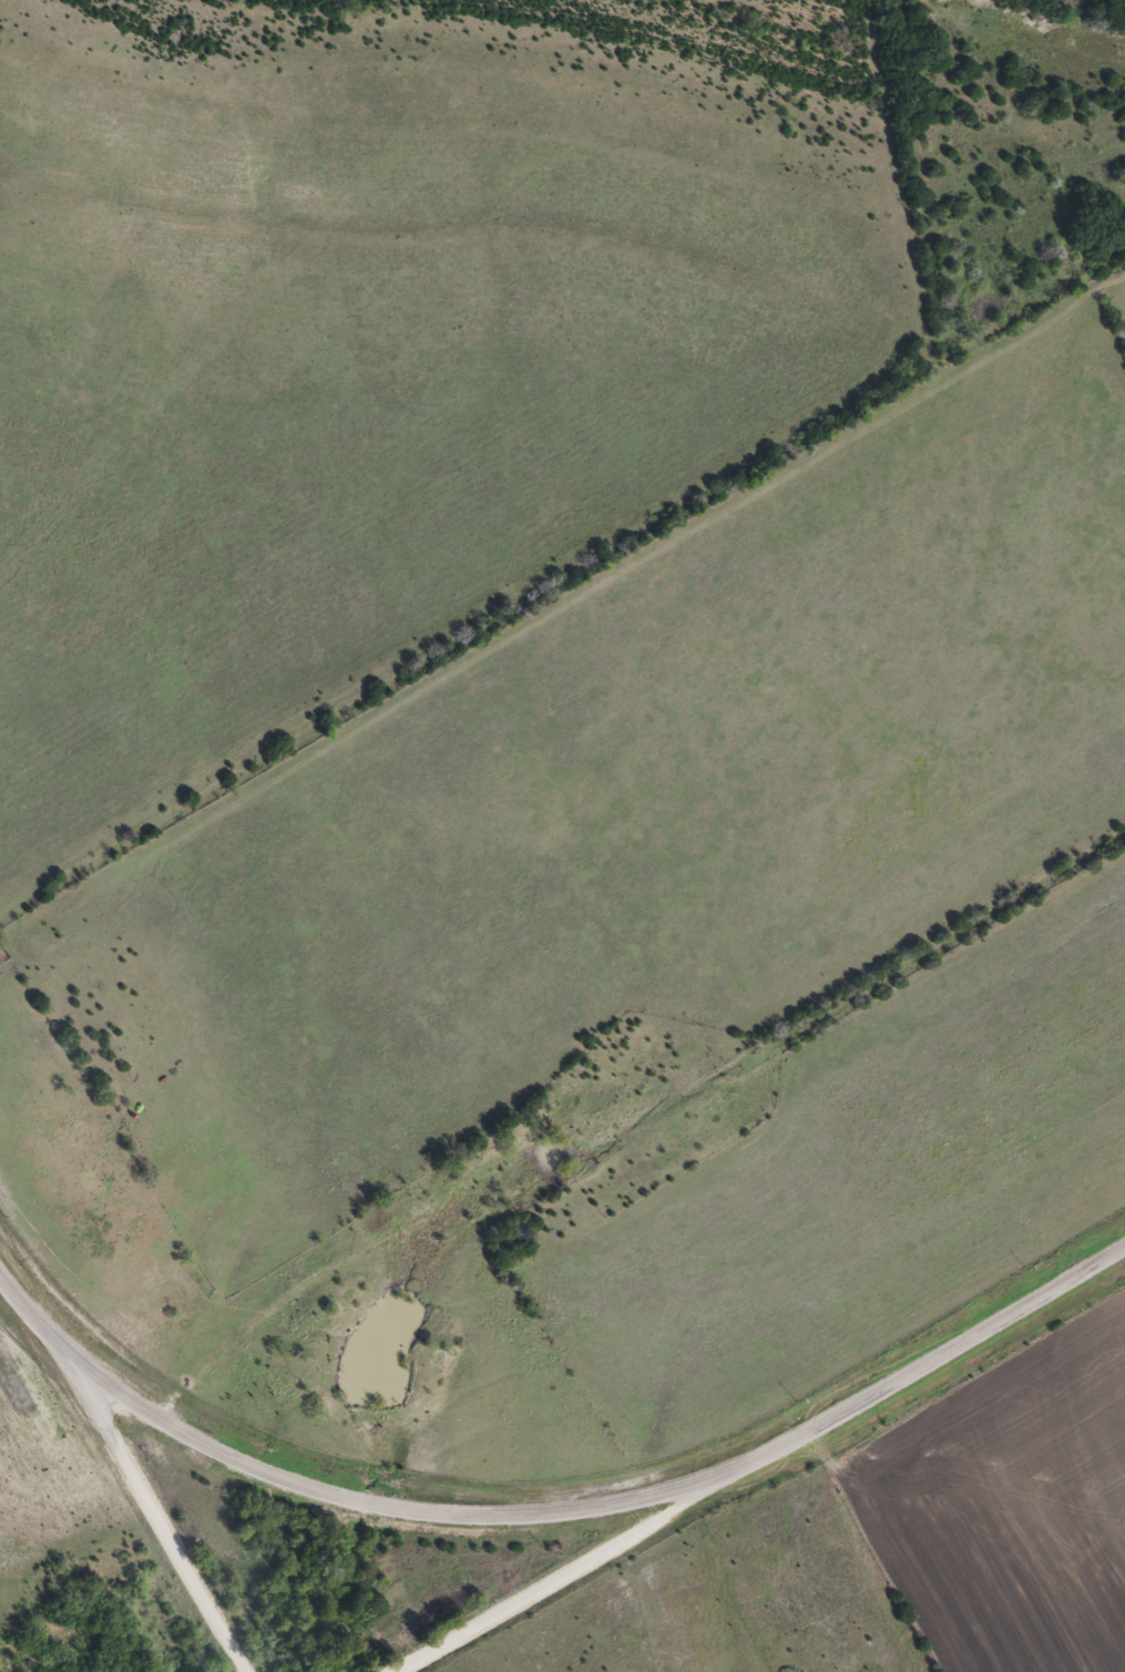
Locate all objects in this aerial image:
road: (558, 1512)
road: (163, 1531)
road: (545, 1581)

